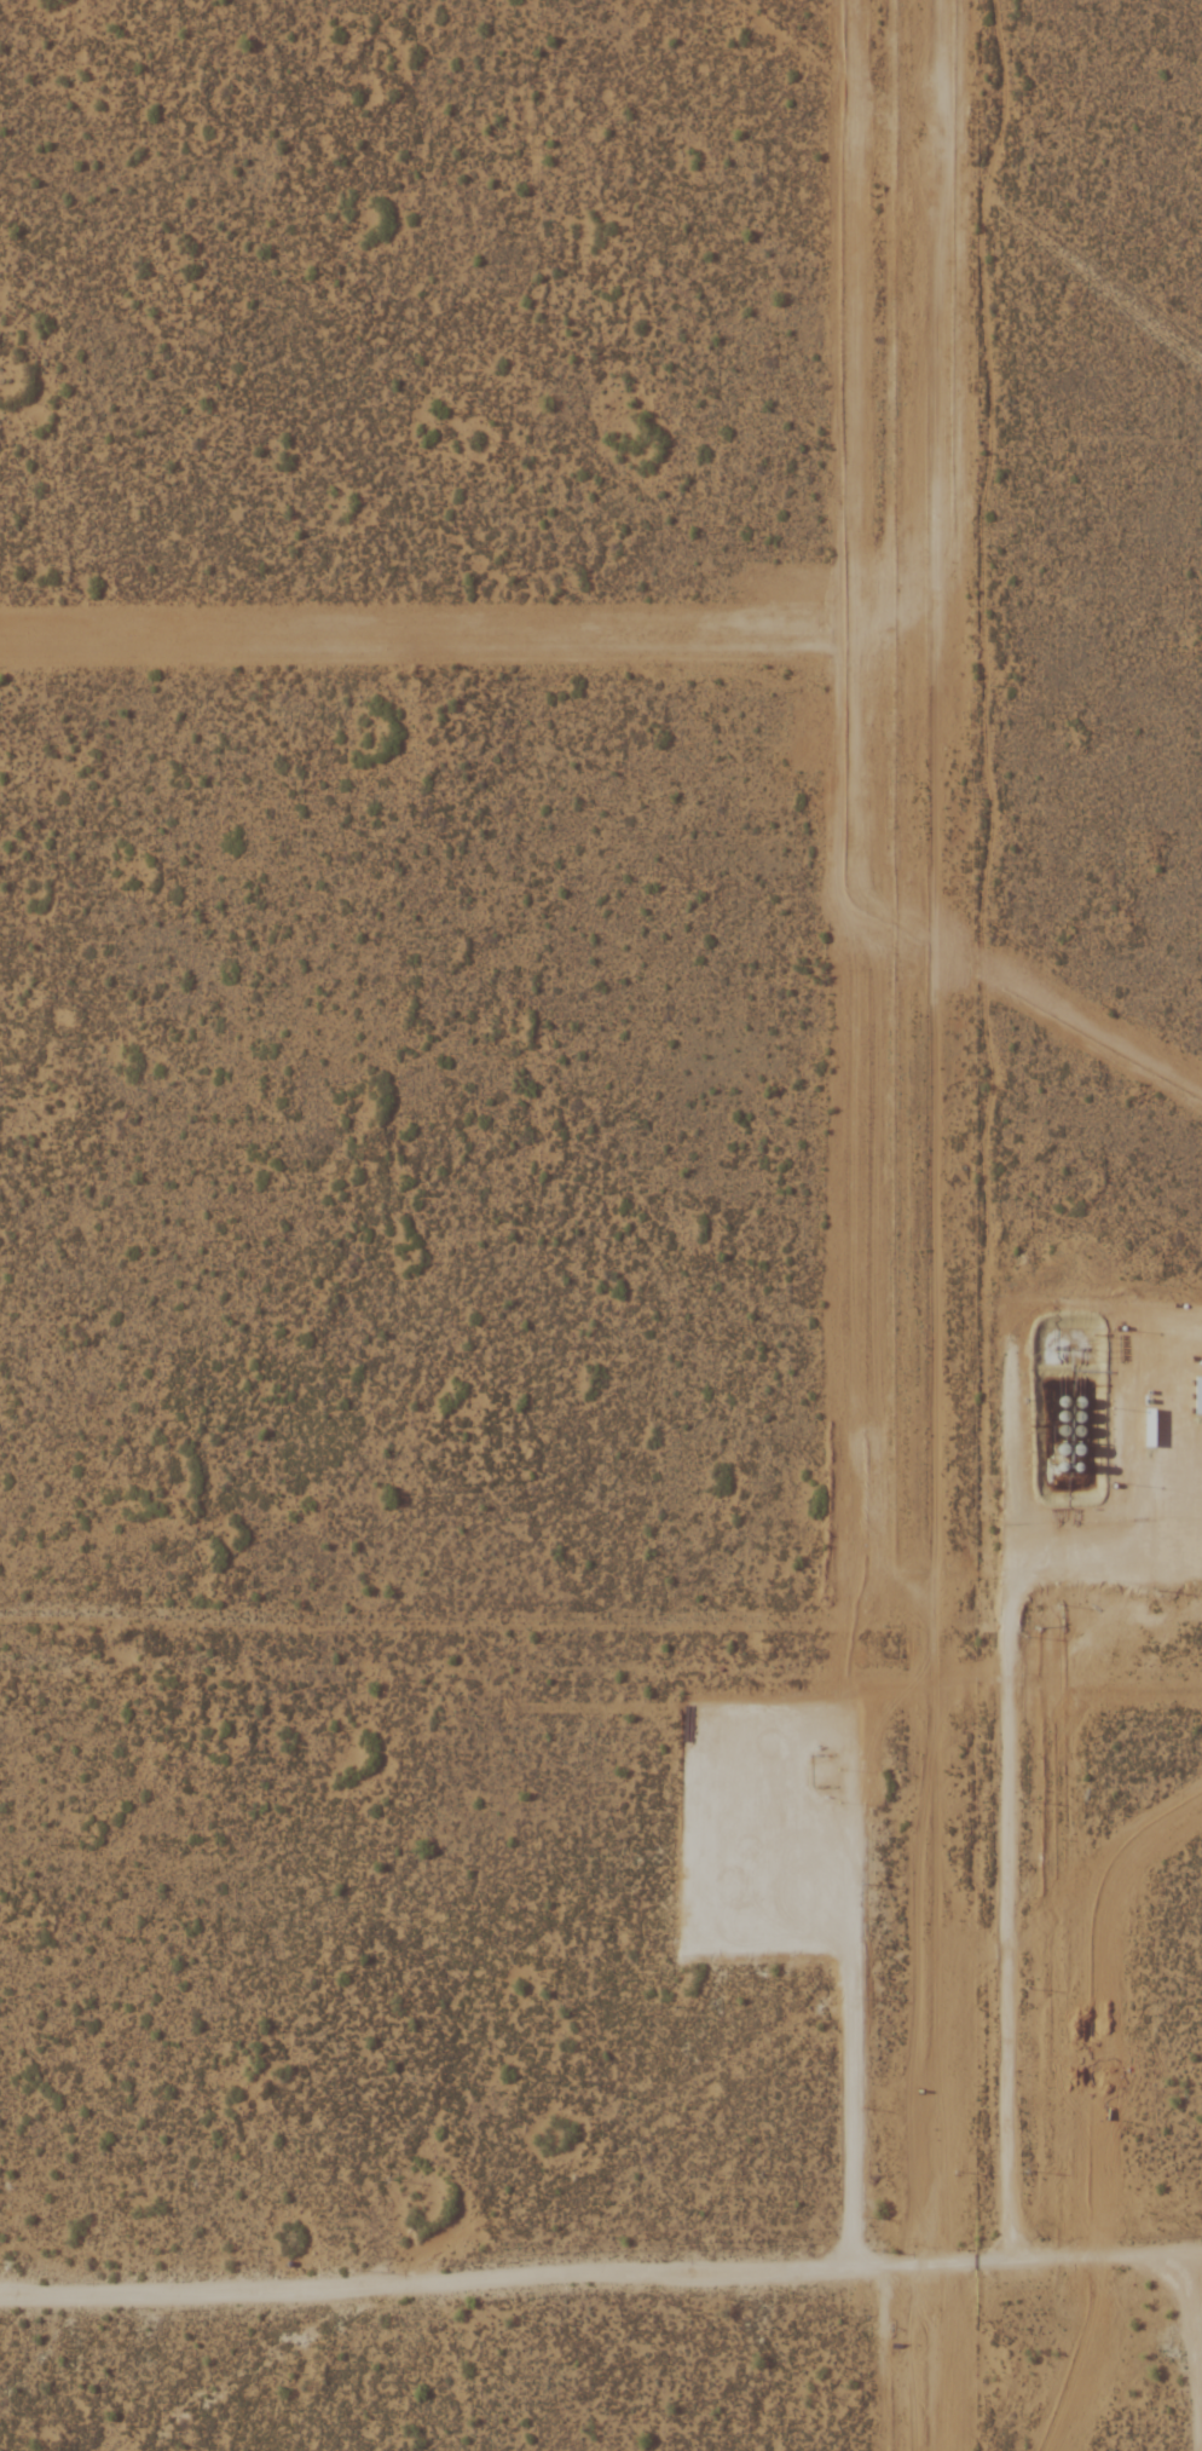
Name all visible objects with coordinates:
road: (1007, 1817)
road: (869, 1965)
road: (1086, 2255)
road: (485, 2280)
road: (1187, 2351)

